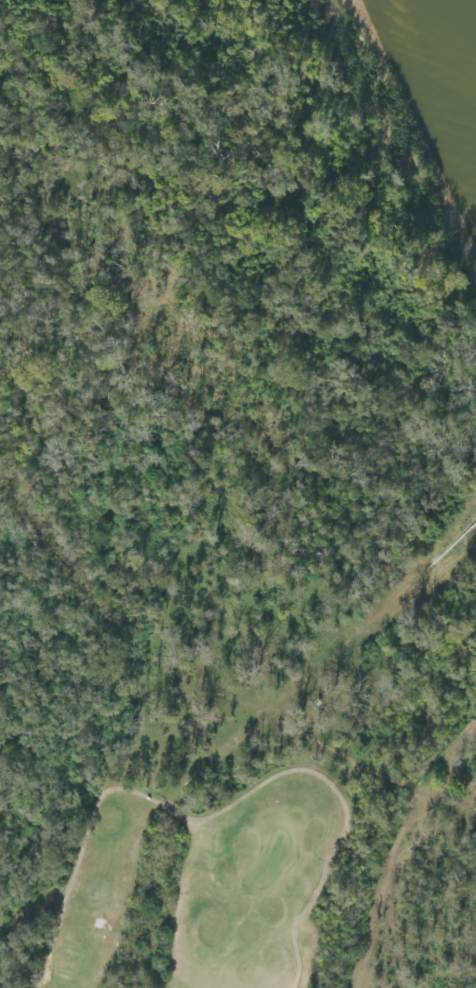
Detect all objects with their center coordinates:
river: (428, 68)
road: (227, 809)

